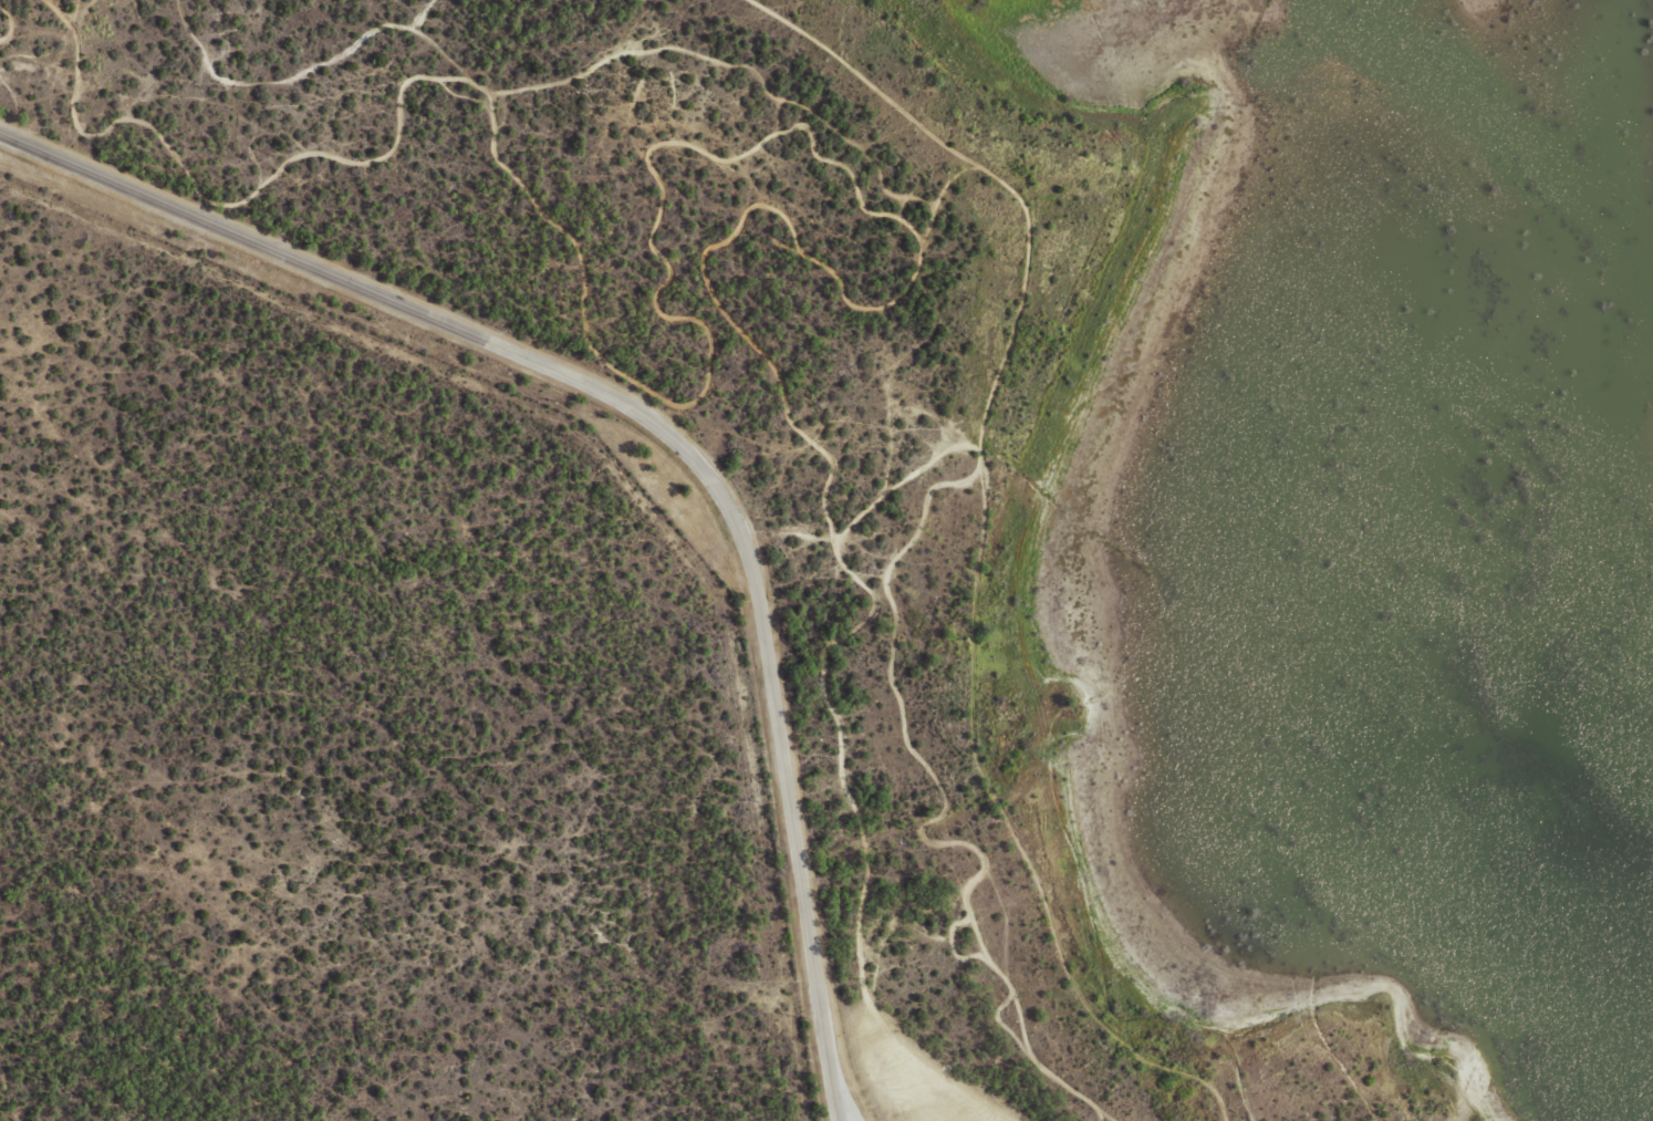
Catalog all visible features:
road: (661, 430)
road: (839, 1109)

